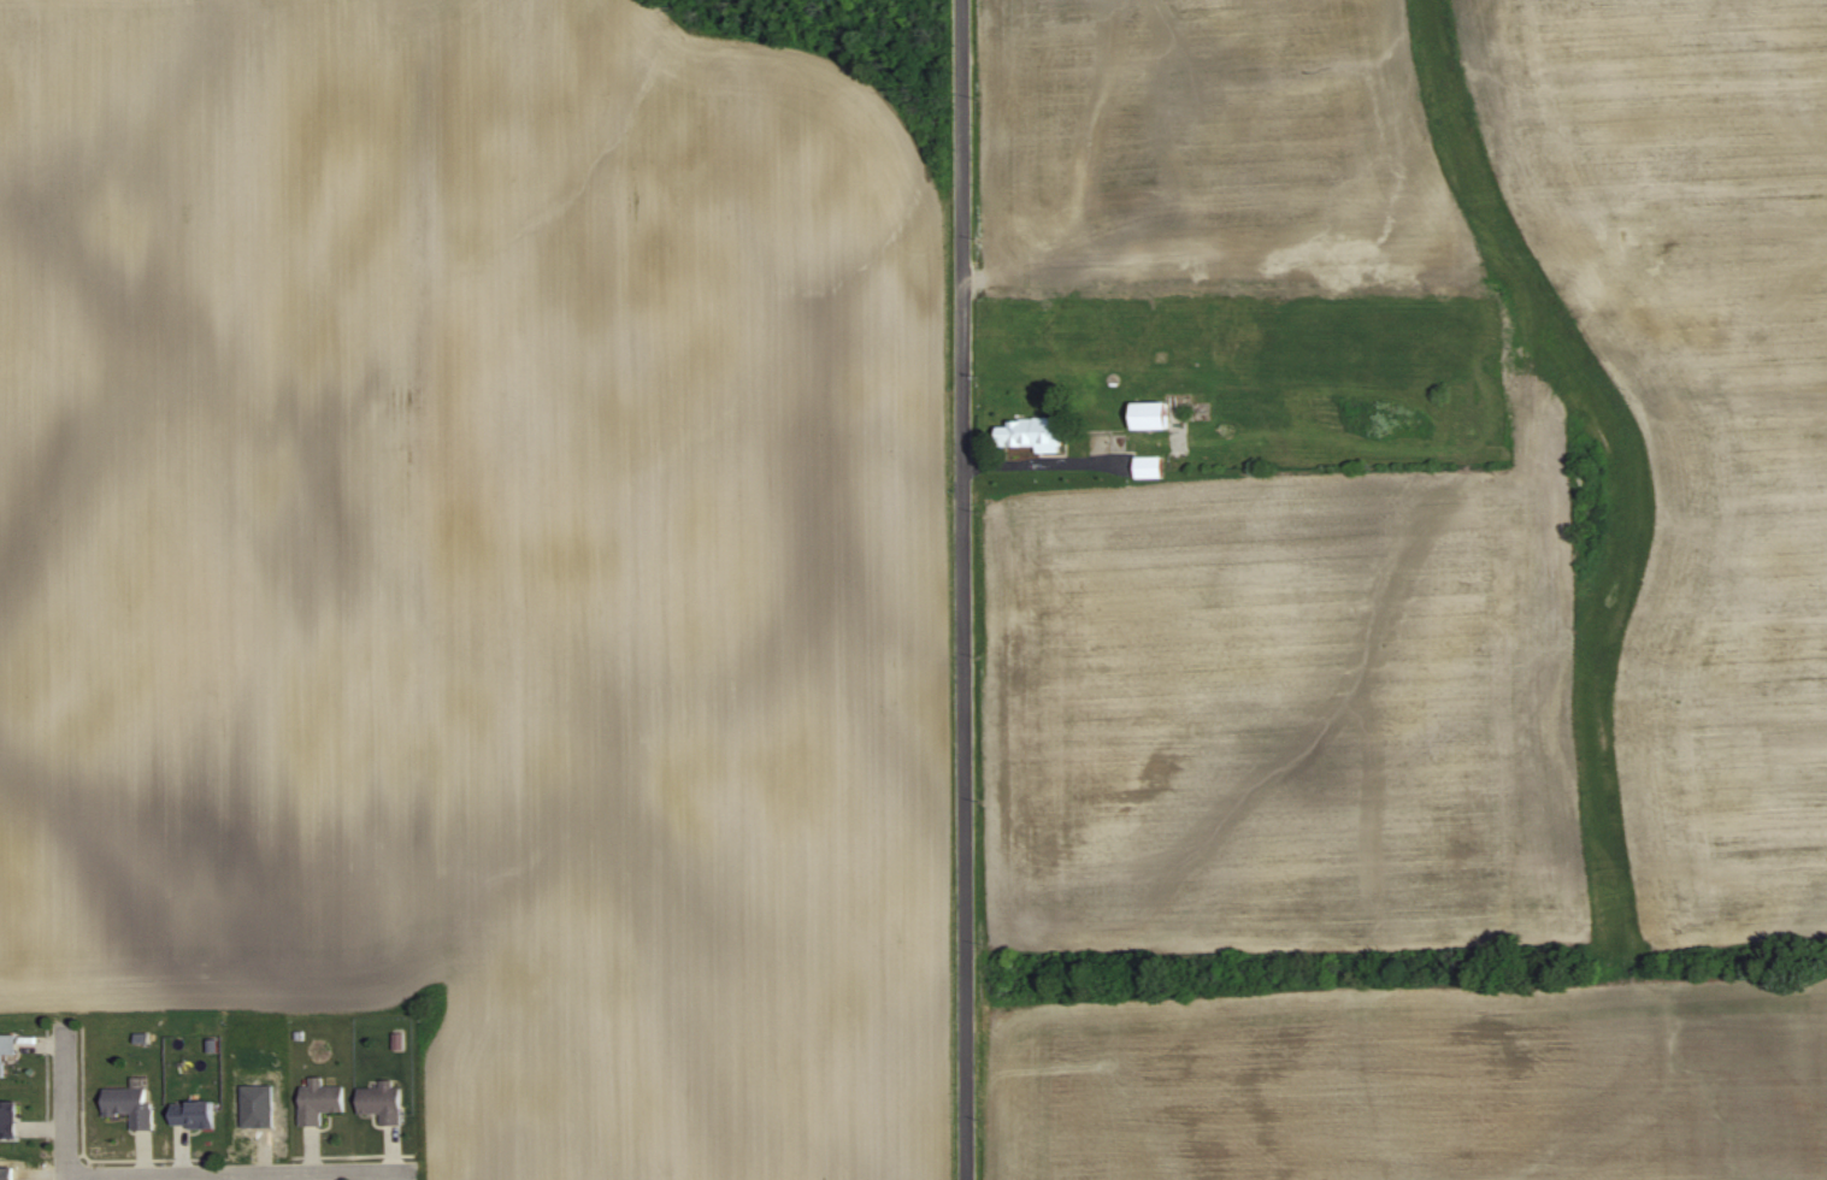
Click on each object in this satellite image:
building: (1155, 414)
building: (1036, 432)
building: (1151, 466)
road: (966, 590)
building: (7, 1049)
building: (322, 1101)
building: (384, 1102)
road: (69, 1103)
building: (131, 1104)
building: (195, 1114)
building: (8, 1116)
road: (240, 1172)

